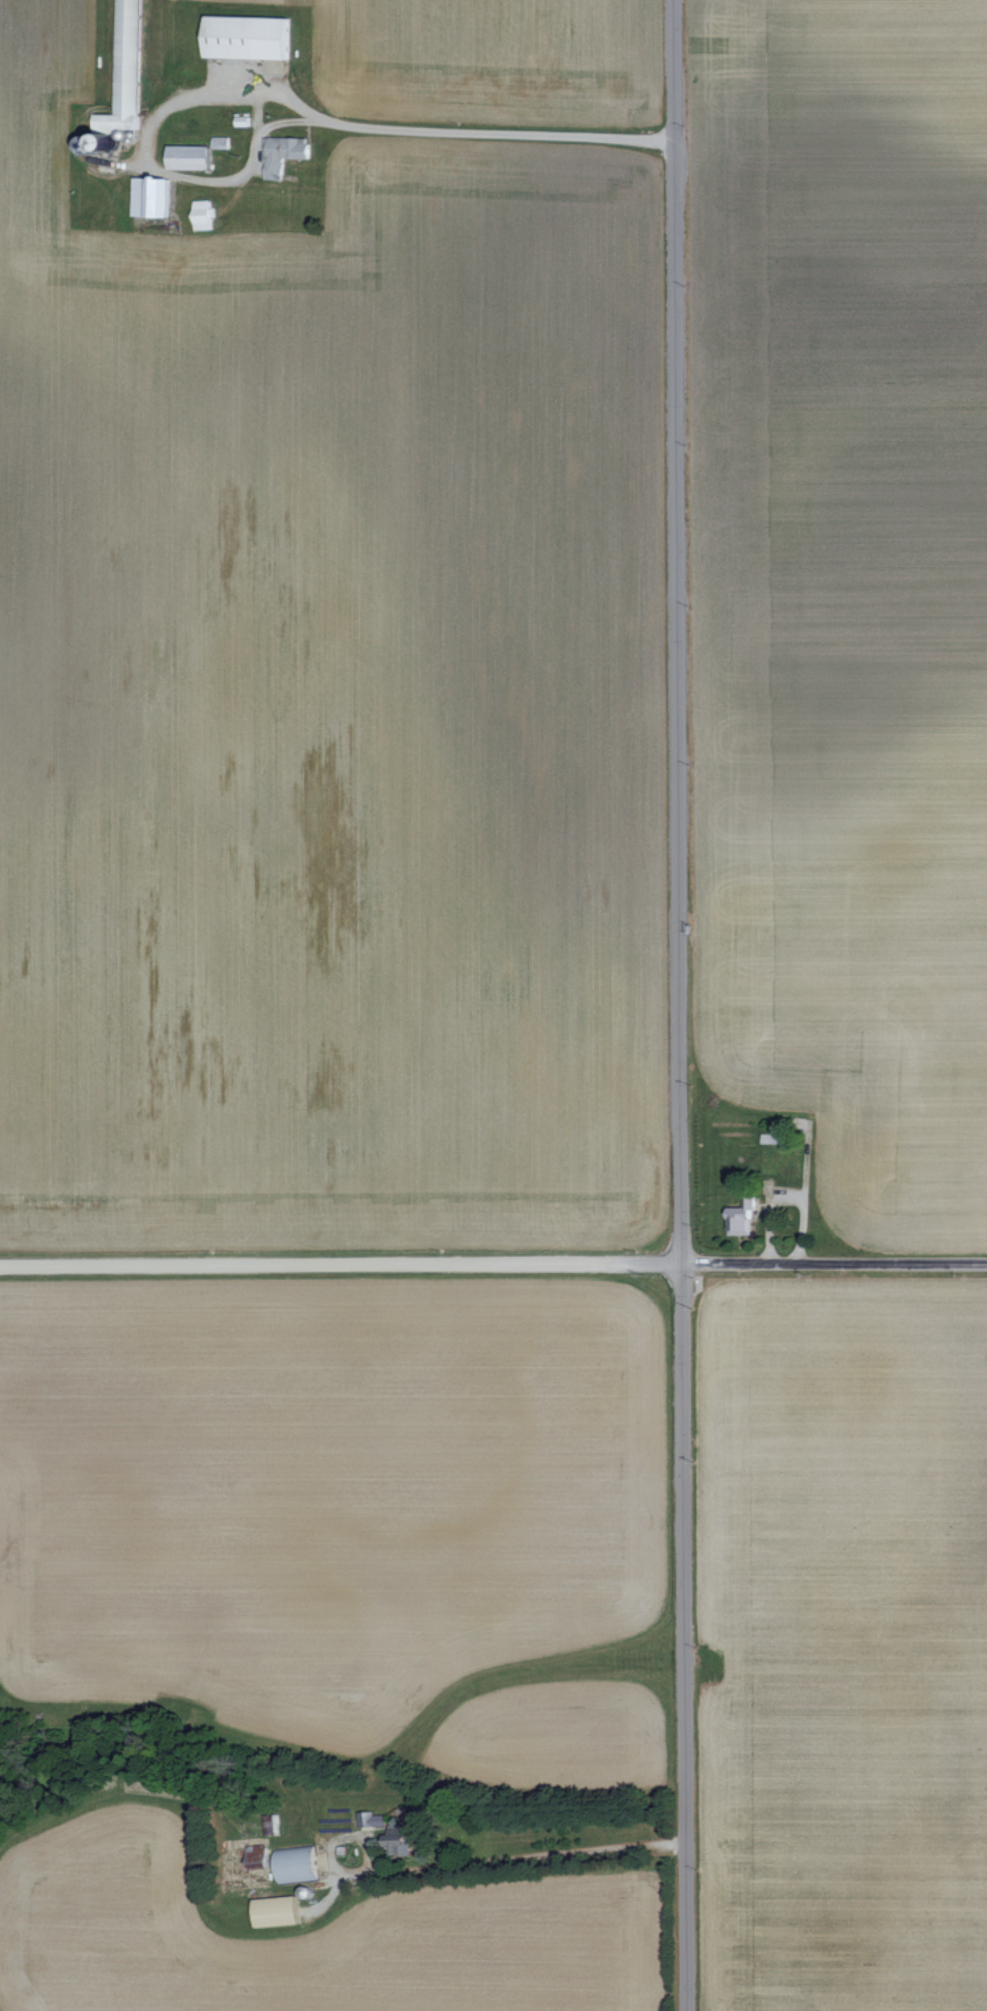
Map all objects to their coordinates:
building: (245, 36)
building: (240, 121)
road: (280, 122)
building: (218, 142)
building: (186, 157)
building: (149, 196)
building: (200, 214)
road: (684, 1005)
building: (770, 1138)
building: (739, 1218)
road: (838, 1267)
road: (299, 1269)
road: (644, 1269)
building: (369, 1819)
building: (396, 1843)
building: (255, 1857)
road: (501, 1859)
building: (293, 1864)
building: (273, 1911)

